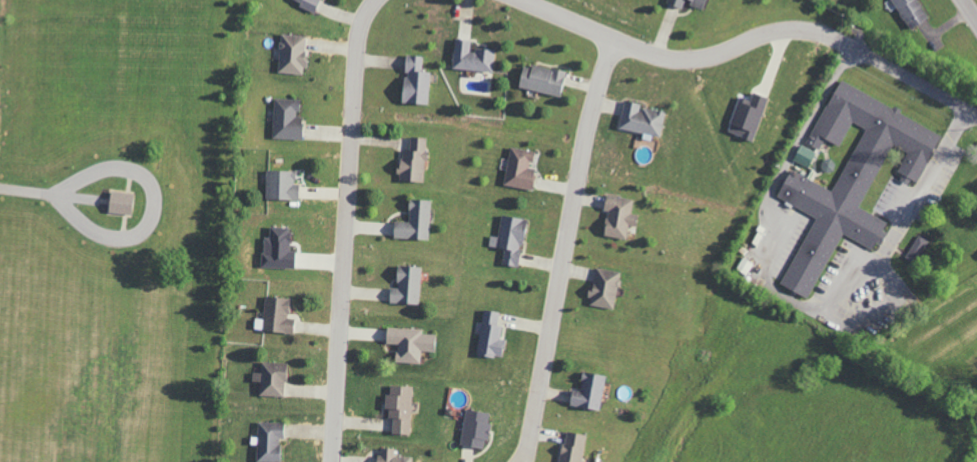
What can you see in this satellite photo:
building: (685, 2)
building: (304, 3)
road: (969, 10)
building: (910, 11)
building: (290, 54)
building: (470, 57)
road: (687, 58)
building: (541, 80)
building: (413, 81)
road: (915, 81)
building: (746, 116)
building: (639, 119)
building: (285, 120)
building: (803, 155)
building: (412, 161)
building: (518, 169)
building: (849, 178)
building: (280, 185)
road: (50, 194)
building: (119, 202)
building: (616, 216)
building: (413, 221)
park: (116, 226)
road: (343, 229)
building: (510, 239)
building: (918, 245)
road: (562, 247)
building: (276, 249)
building: (743, 266)
building: (405, 285)
building: (603, 288)
building: (276, 315)
building: (489, 335)
building: (408, 343)
building: (270, 379)
building: (587, 392)
building: (398, 409)
building: (474, 428)
building: (571, 447)
building: (389, 456)

